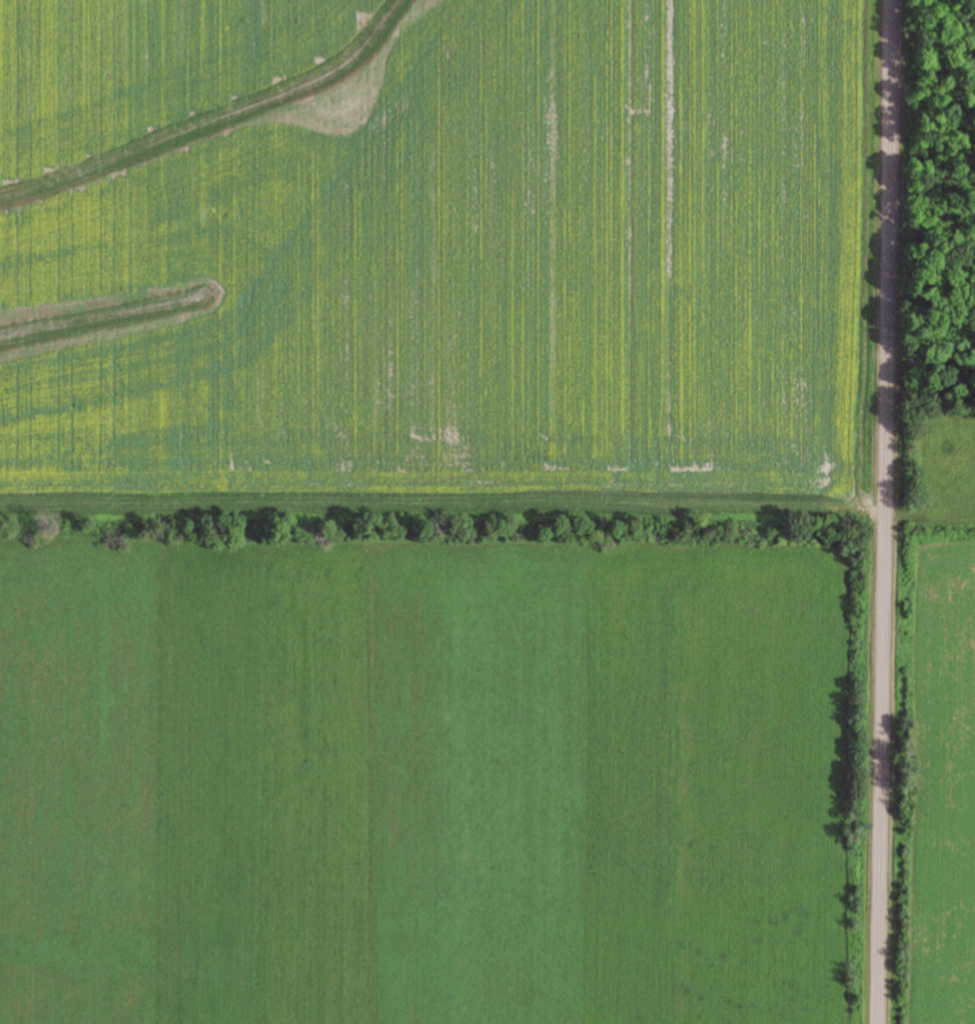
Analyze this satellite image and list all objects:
road: (877, 512)

